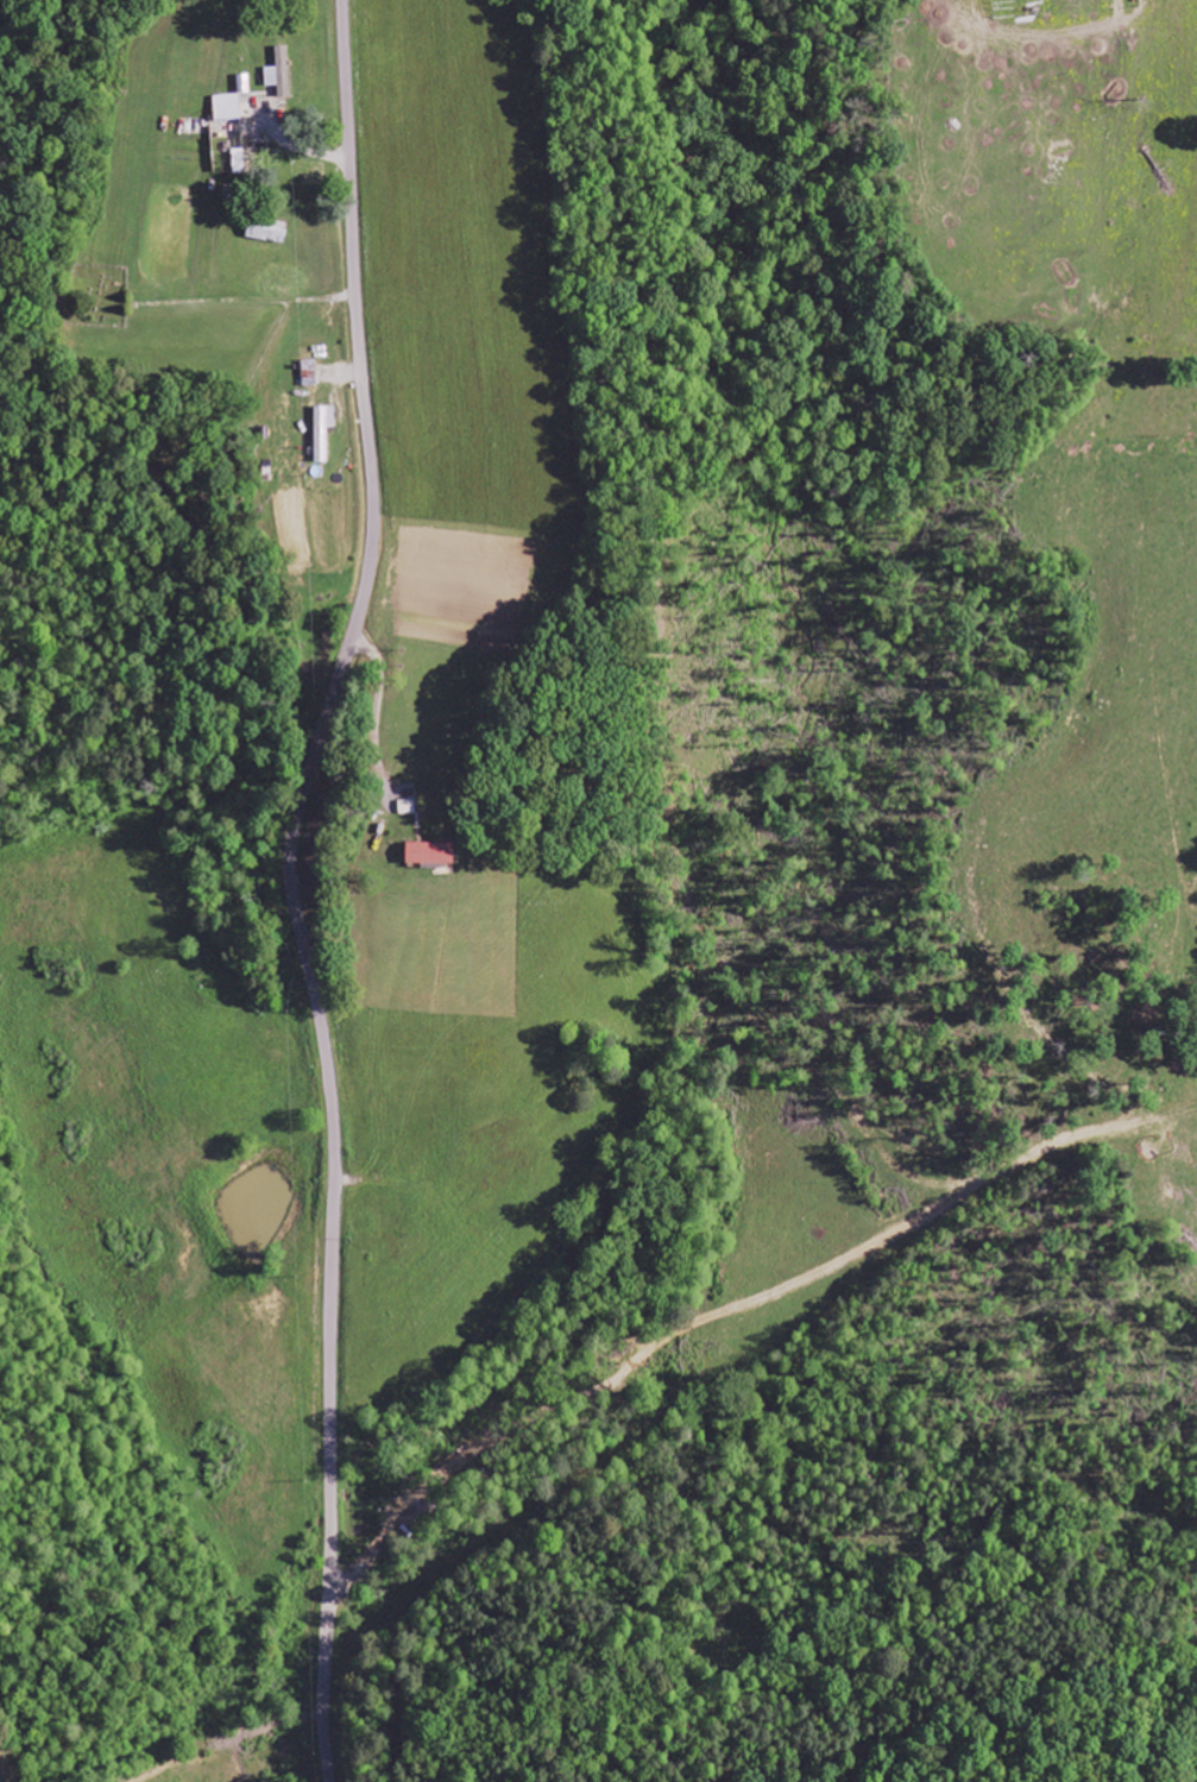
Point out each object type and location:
building: (279, 74)
building: (227, 108)
building: (266, 232)
building: (309, 370)
building: (322, 430)
building: (430, 852)
road: (292, 886)

